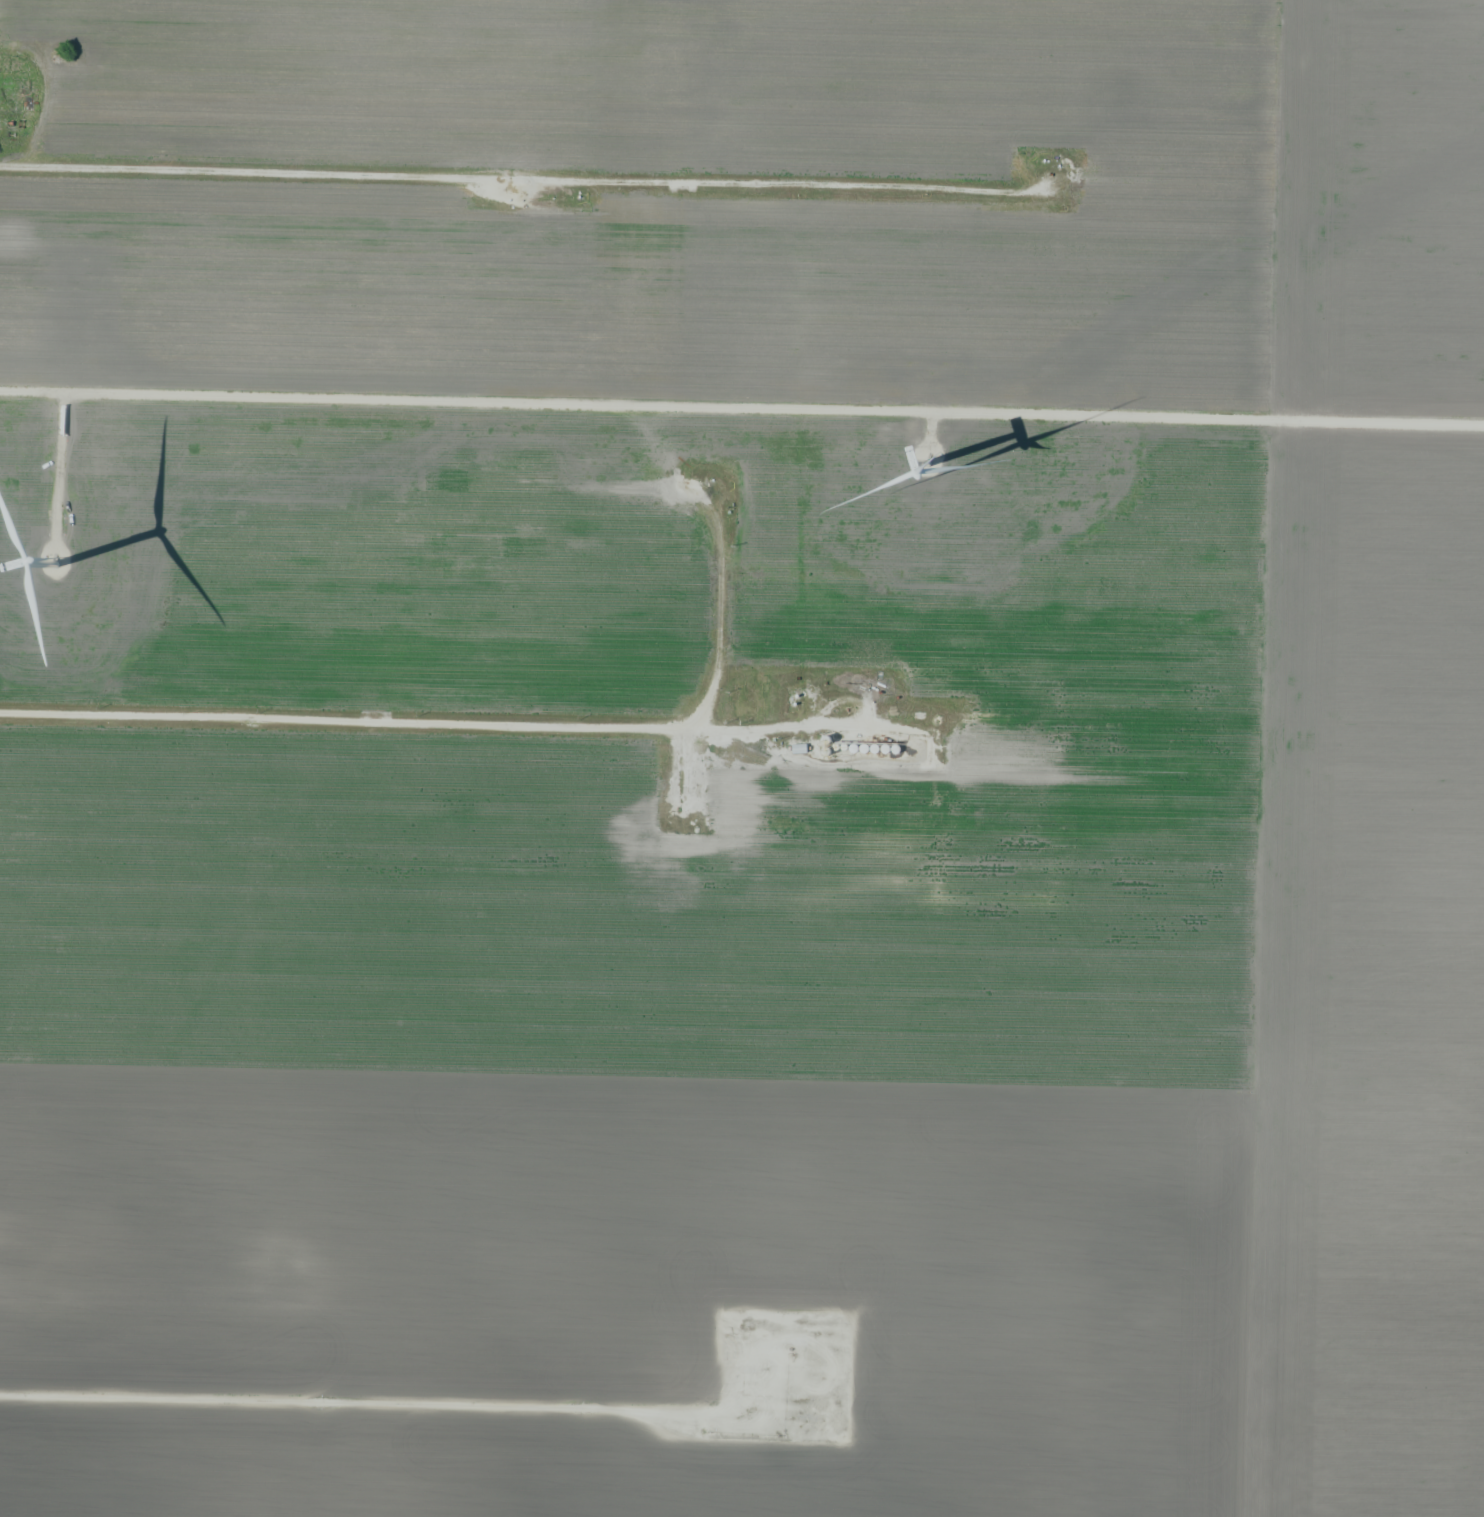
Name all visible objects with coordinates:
road: (518, 176)
wind turbine: (918, 457)
wind turbine: (56, 552)
road: (467, 723)
road: (464, 1409)

